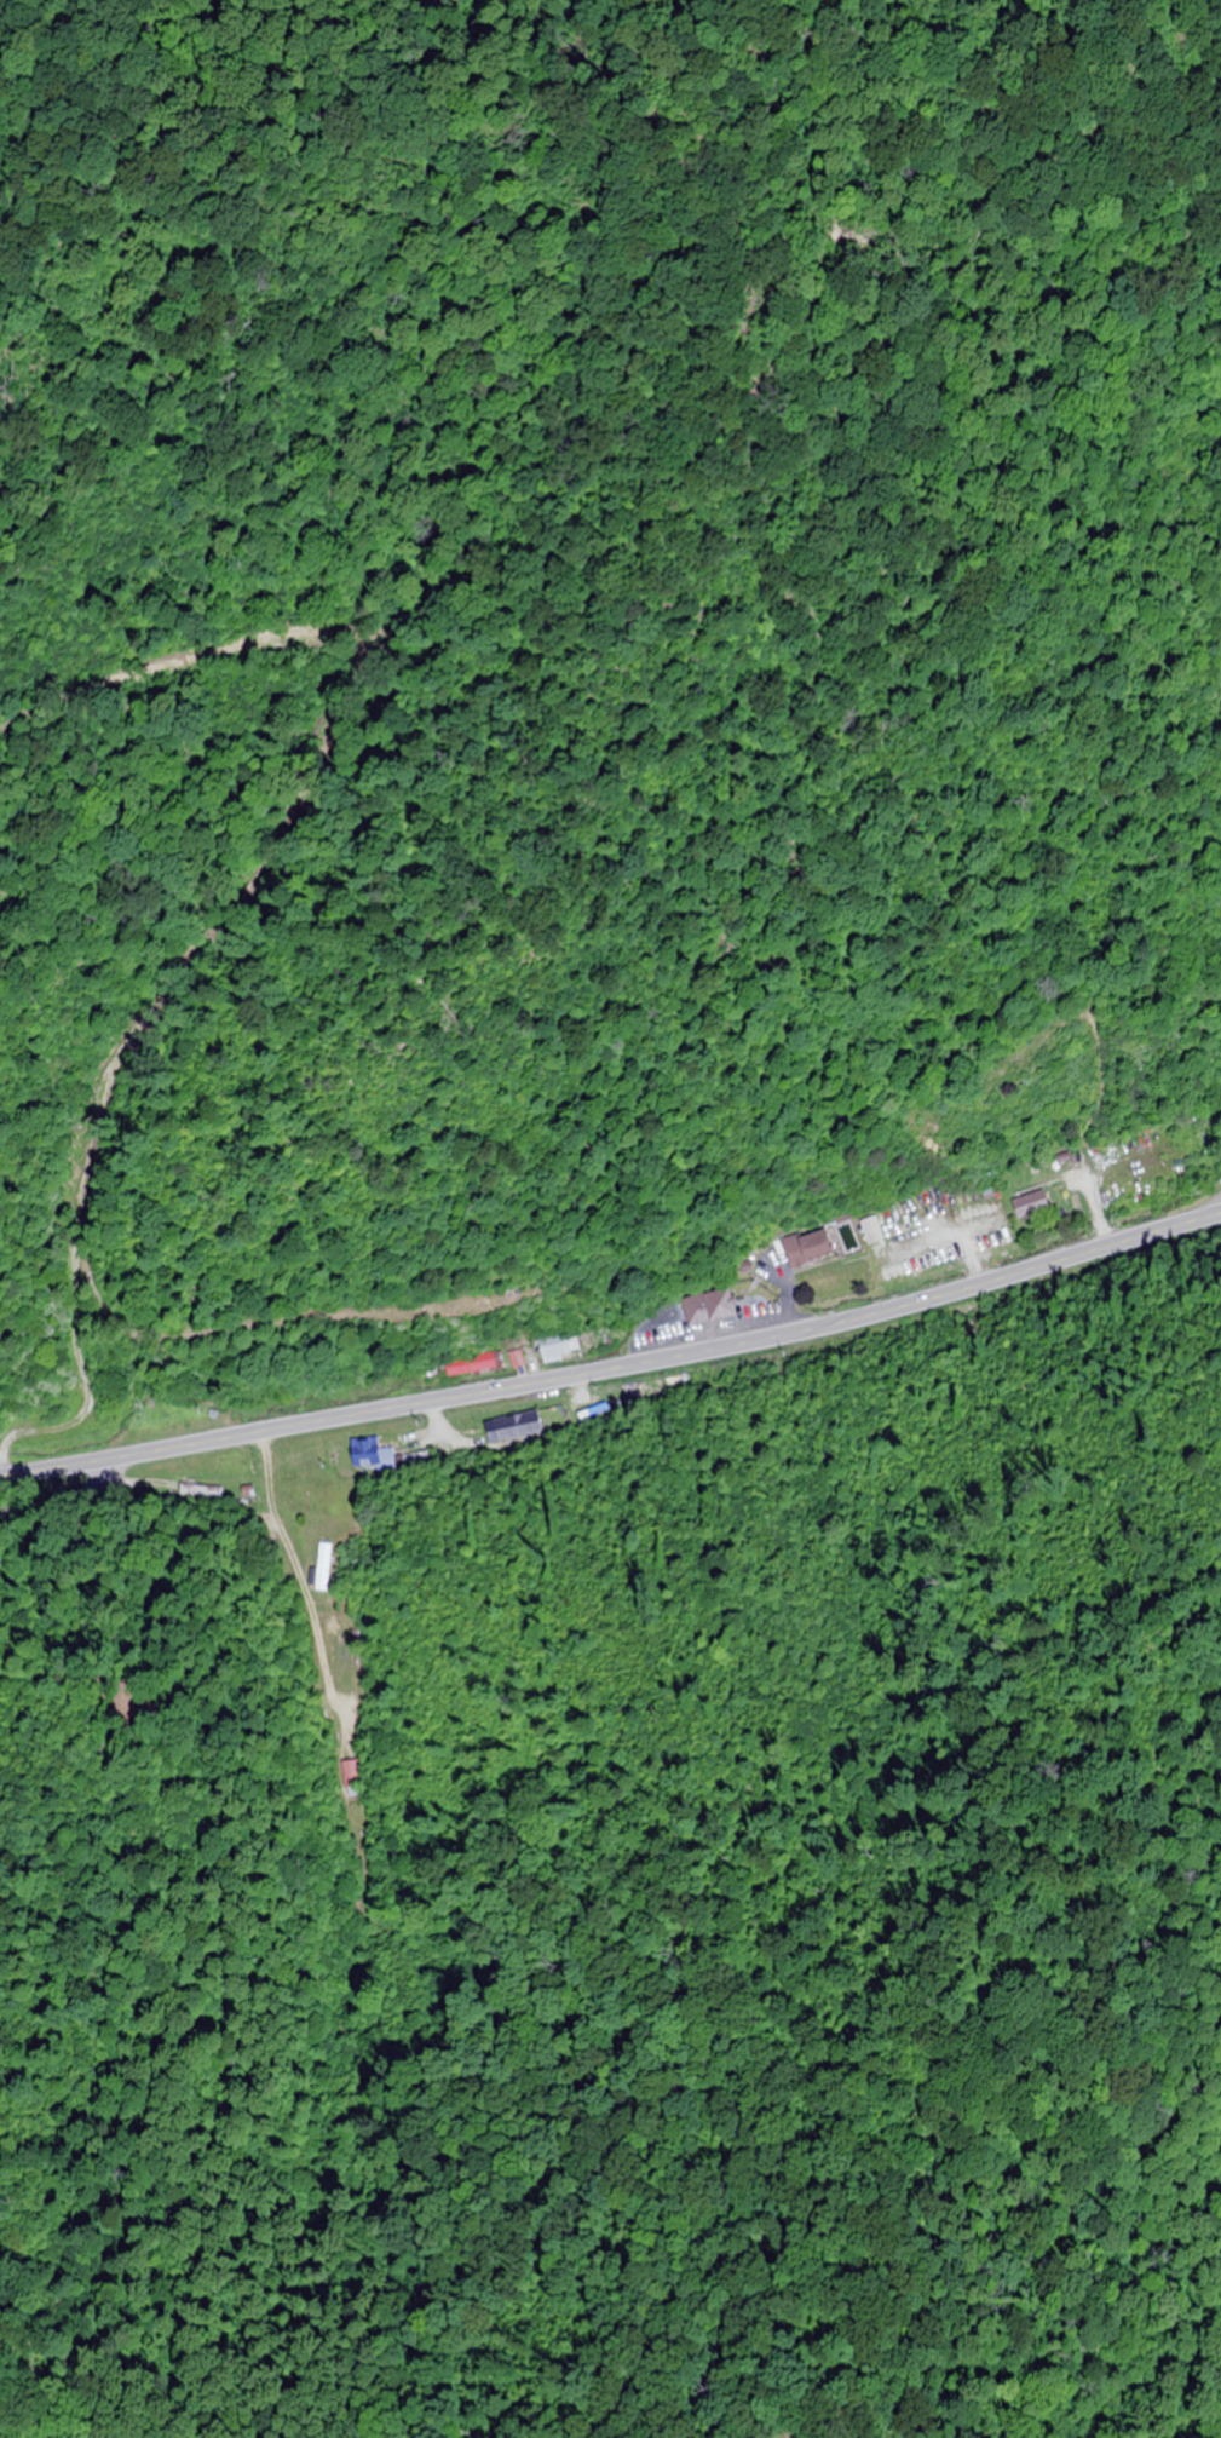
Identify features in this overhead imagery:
building: (1033, 1189)
building: (819, 1246)
building: (707, 1309)
road: (612, 1345)
building: (557, 1349)
building: (516, 1359)
building: (472, 1364)
building: (517, 1427)
building: (373, 1462)
road: (85, 1487)

